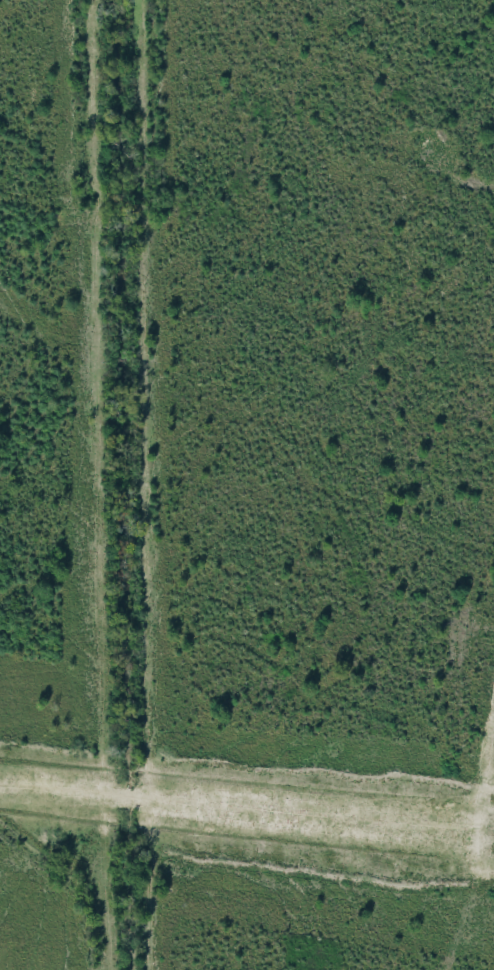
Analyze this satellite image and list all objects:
railway: (247, 226)
road: (239, 808)

